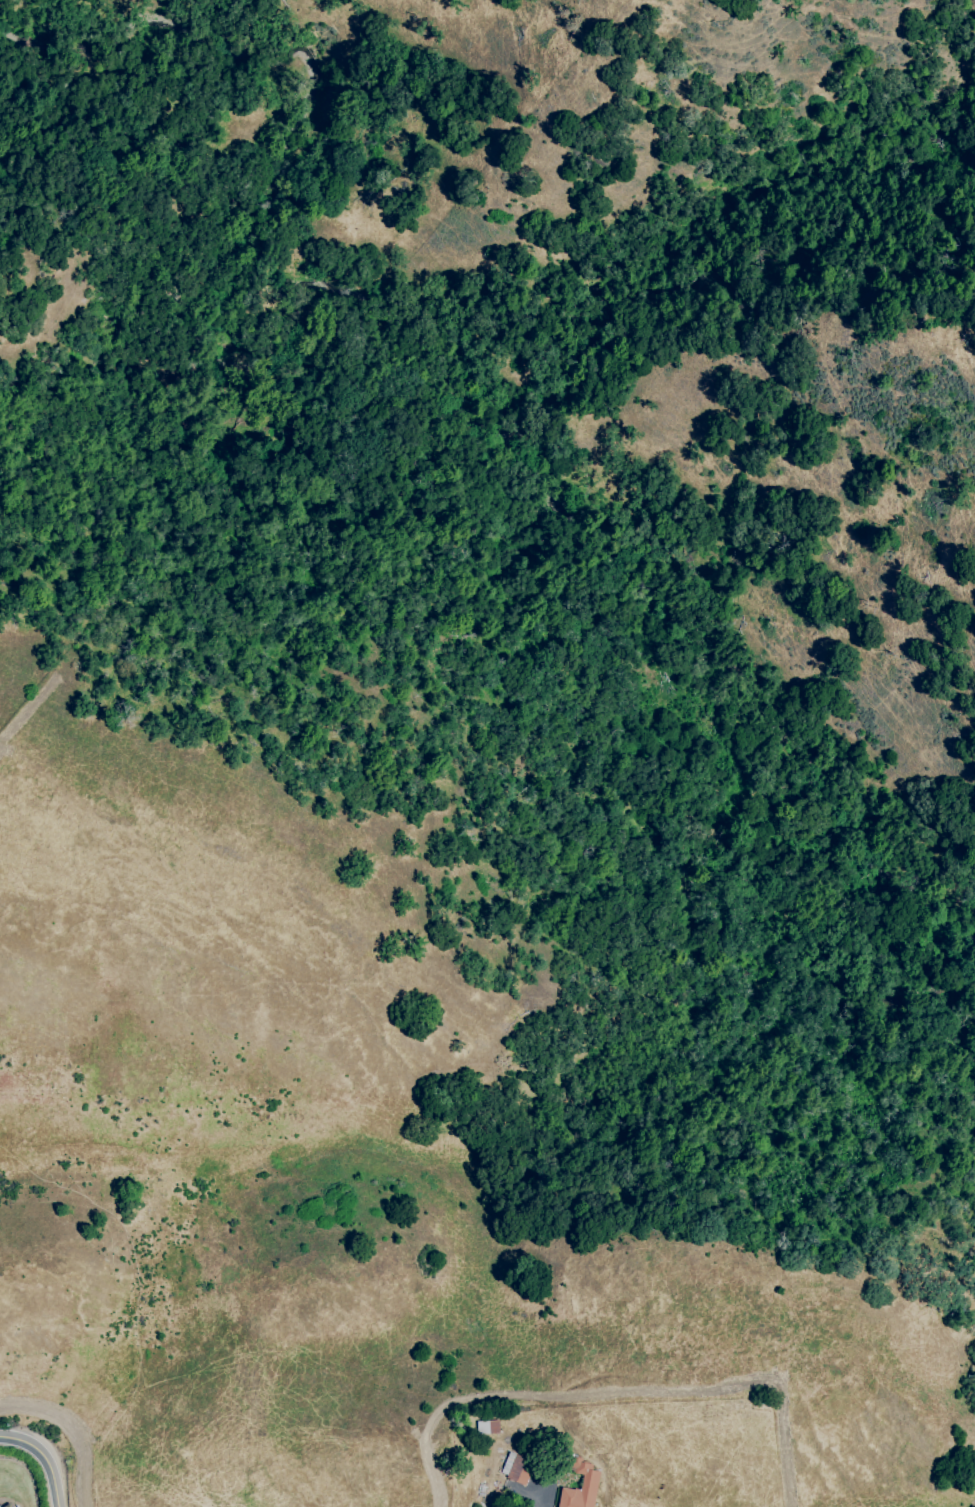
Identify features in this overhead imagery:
road: (44, 1458)
building: (515, 1468)
building: (581, 1488)
road: (536, 1499)
building: (7, 1505)

